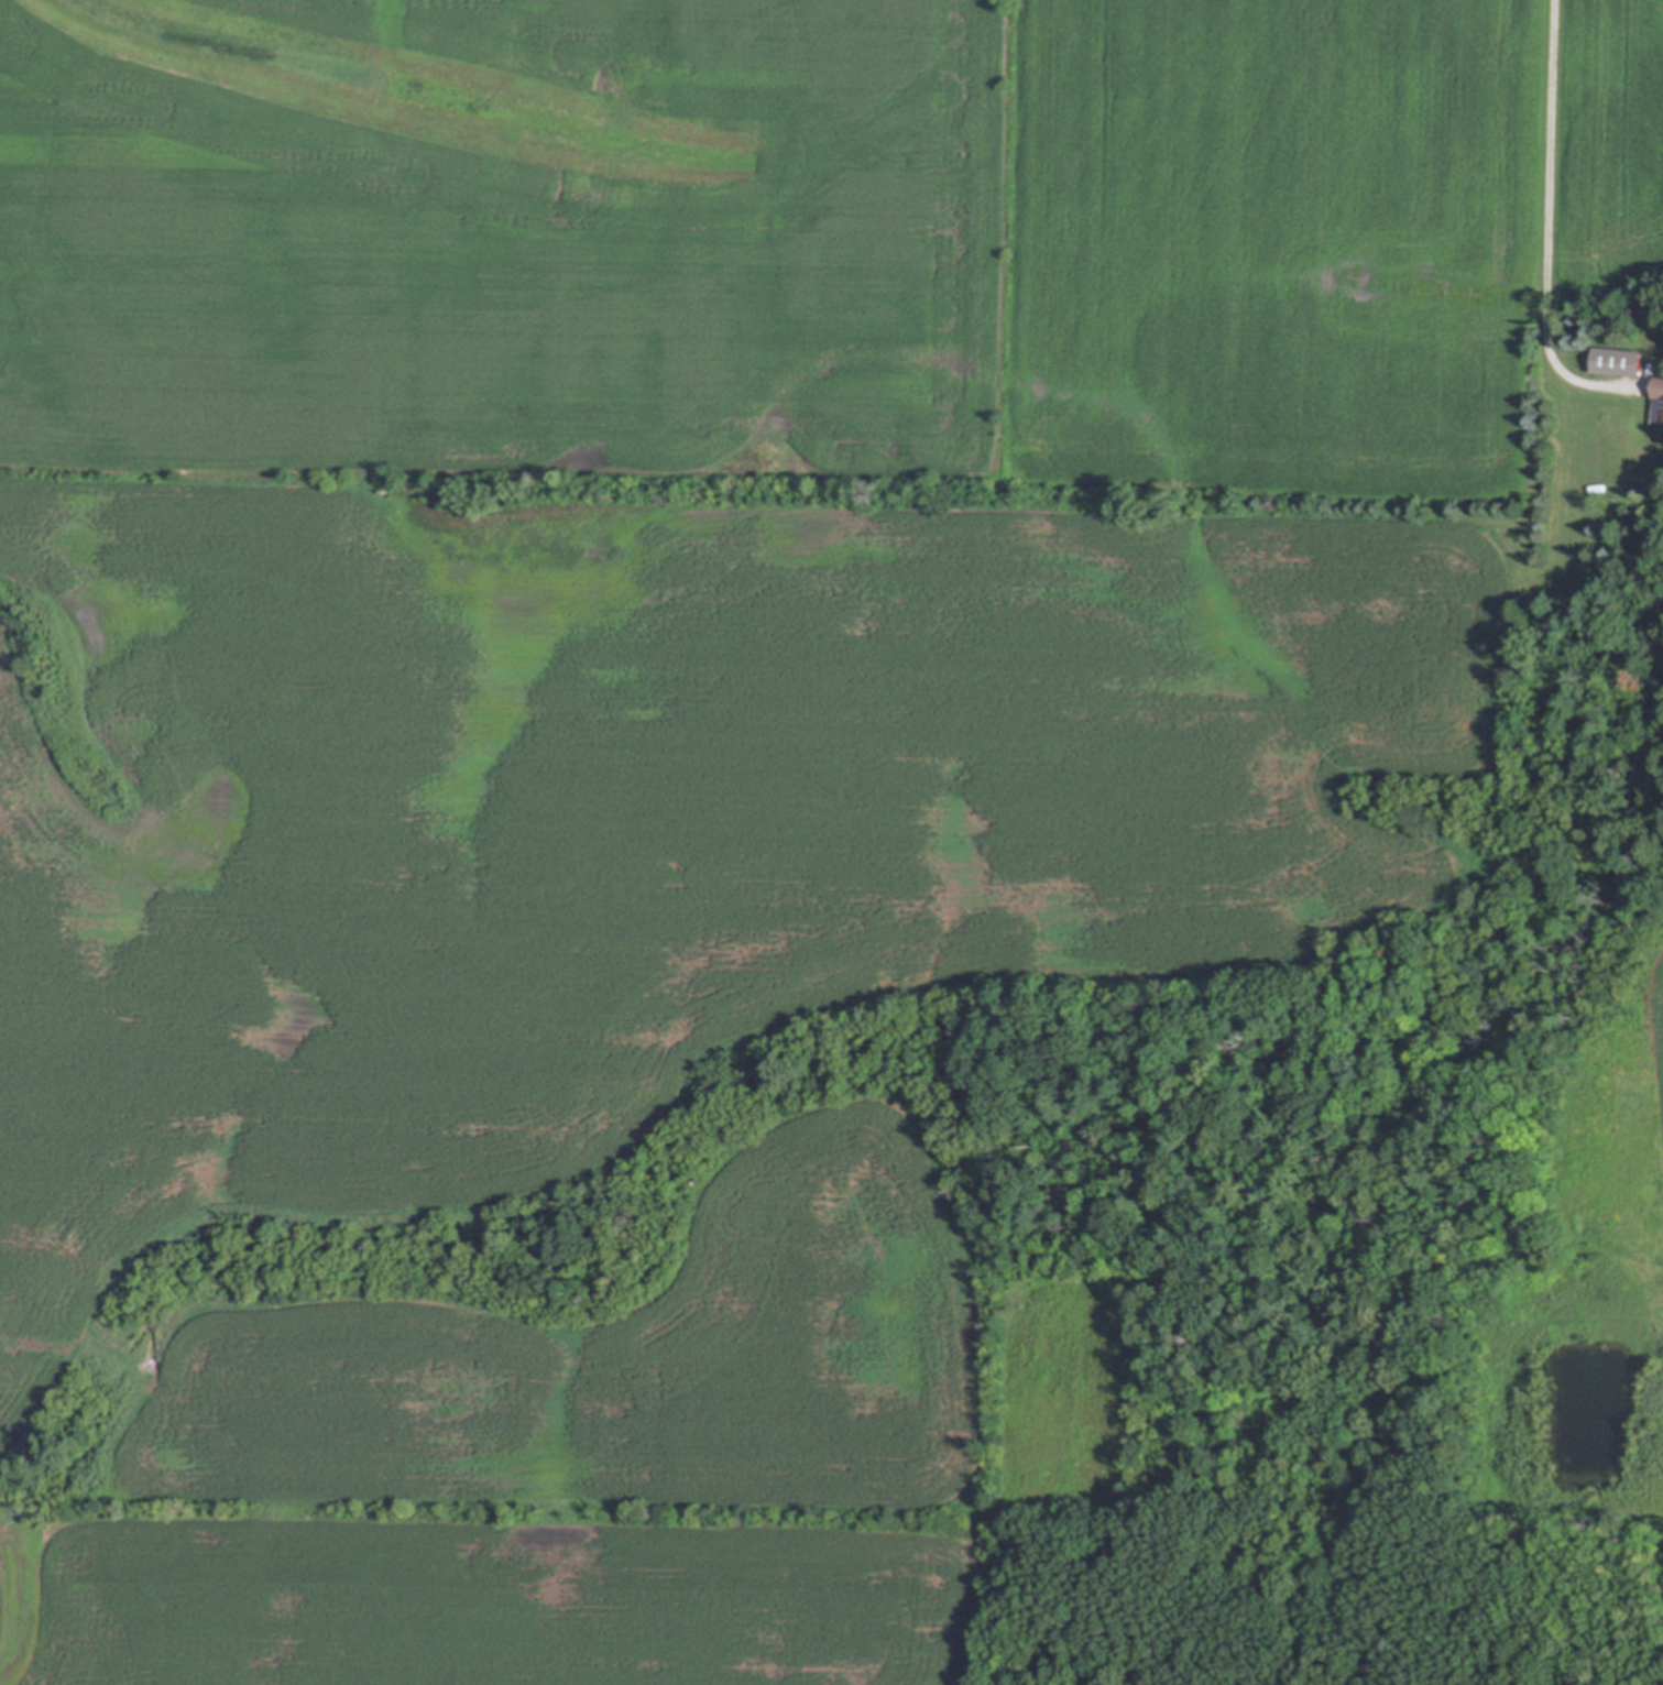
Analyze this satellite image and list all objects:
road: (1546, 221)
building: (1621, 362)
building: (1660, 403)

